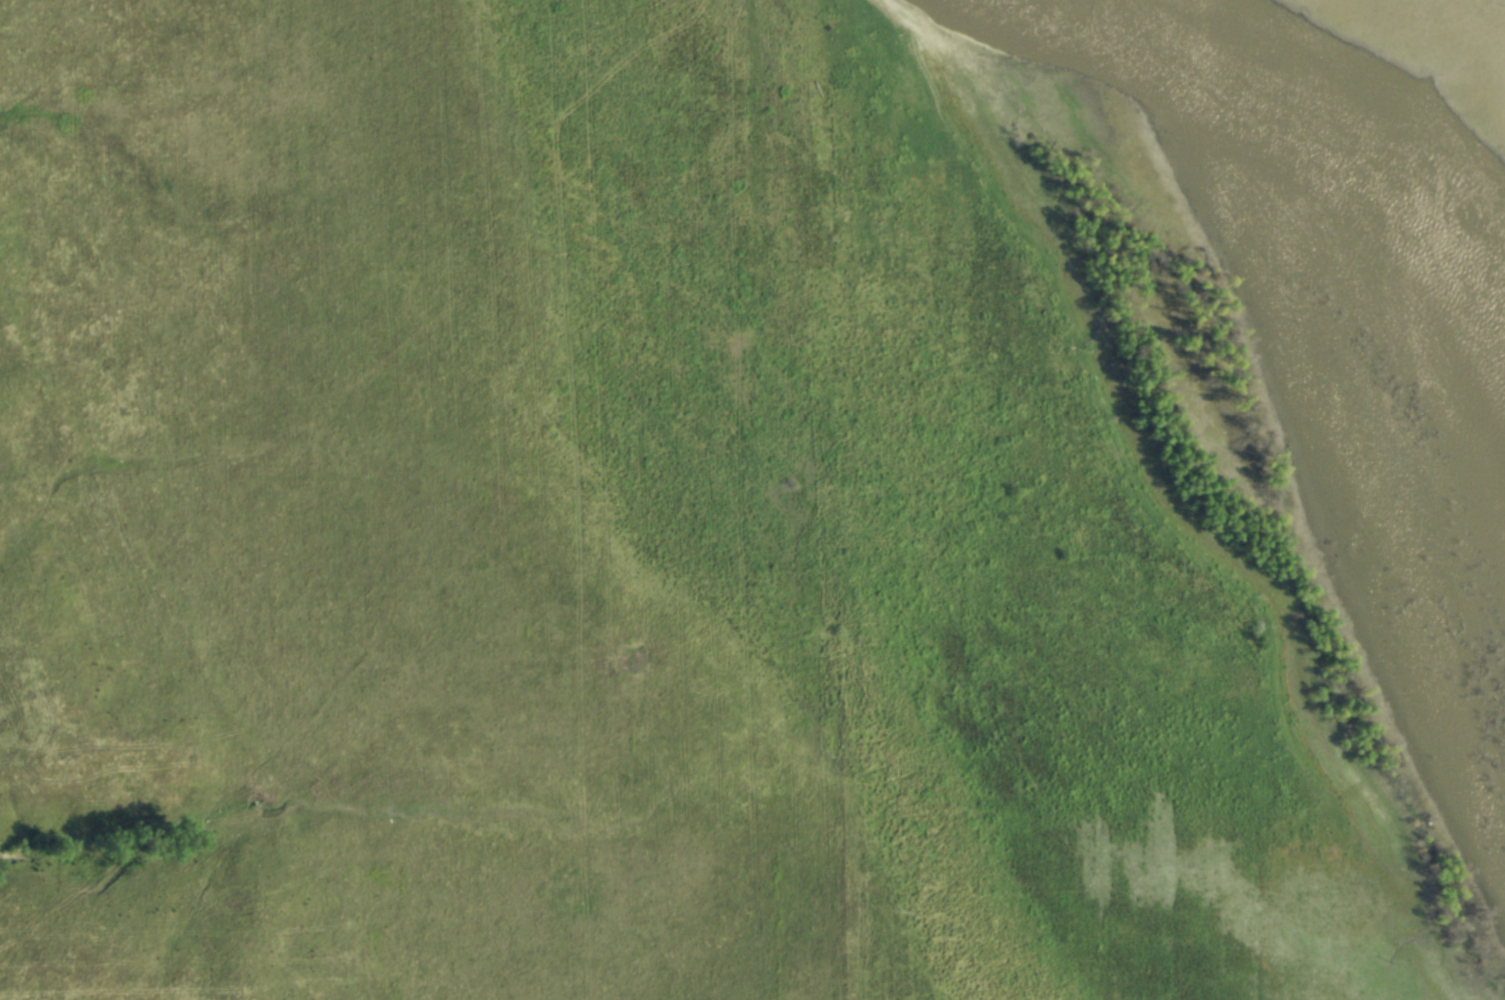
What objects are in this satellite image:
river: (1355, 169)

